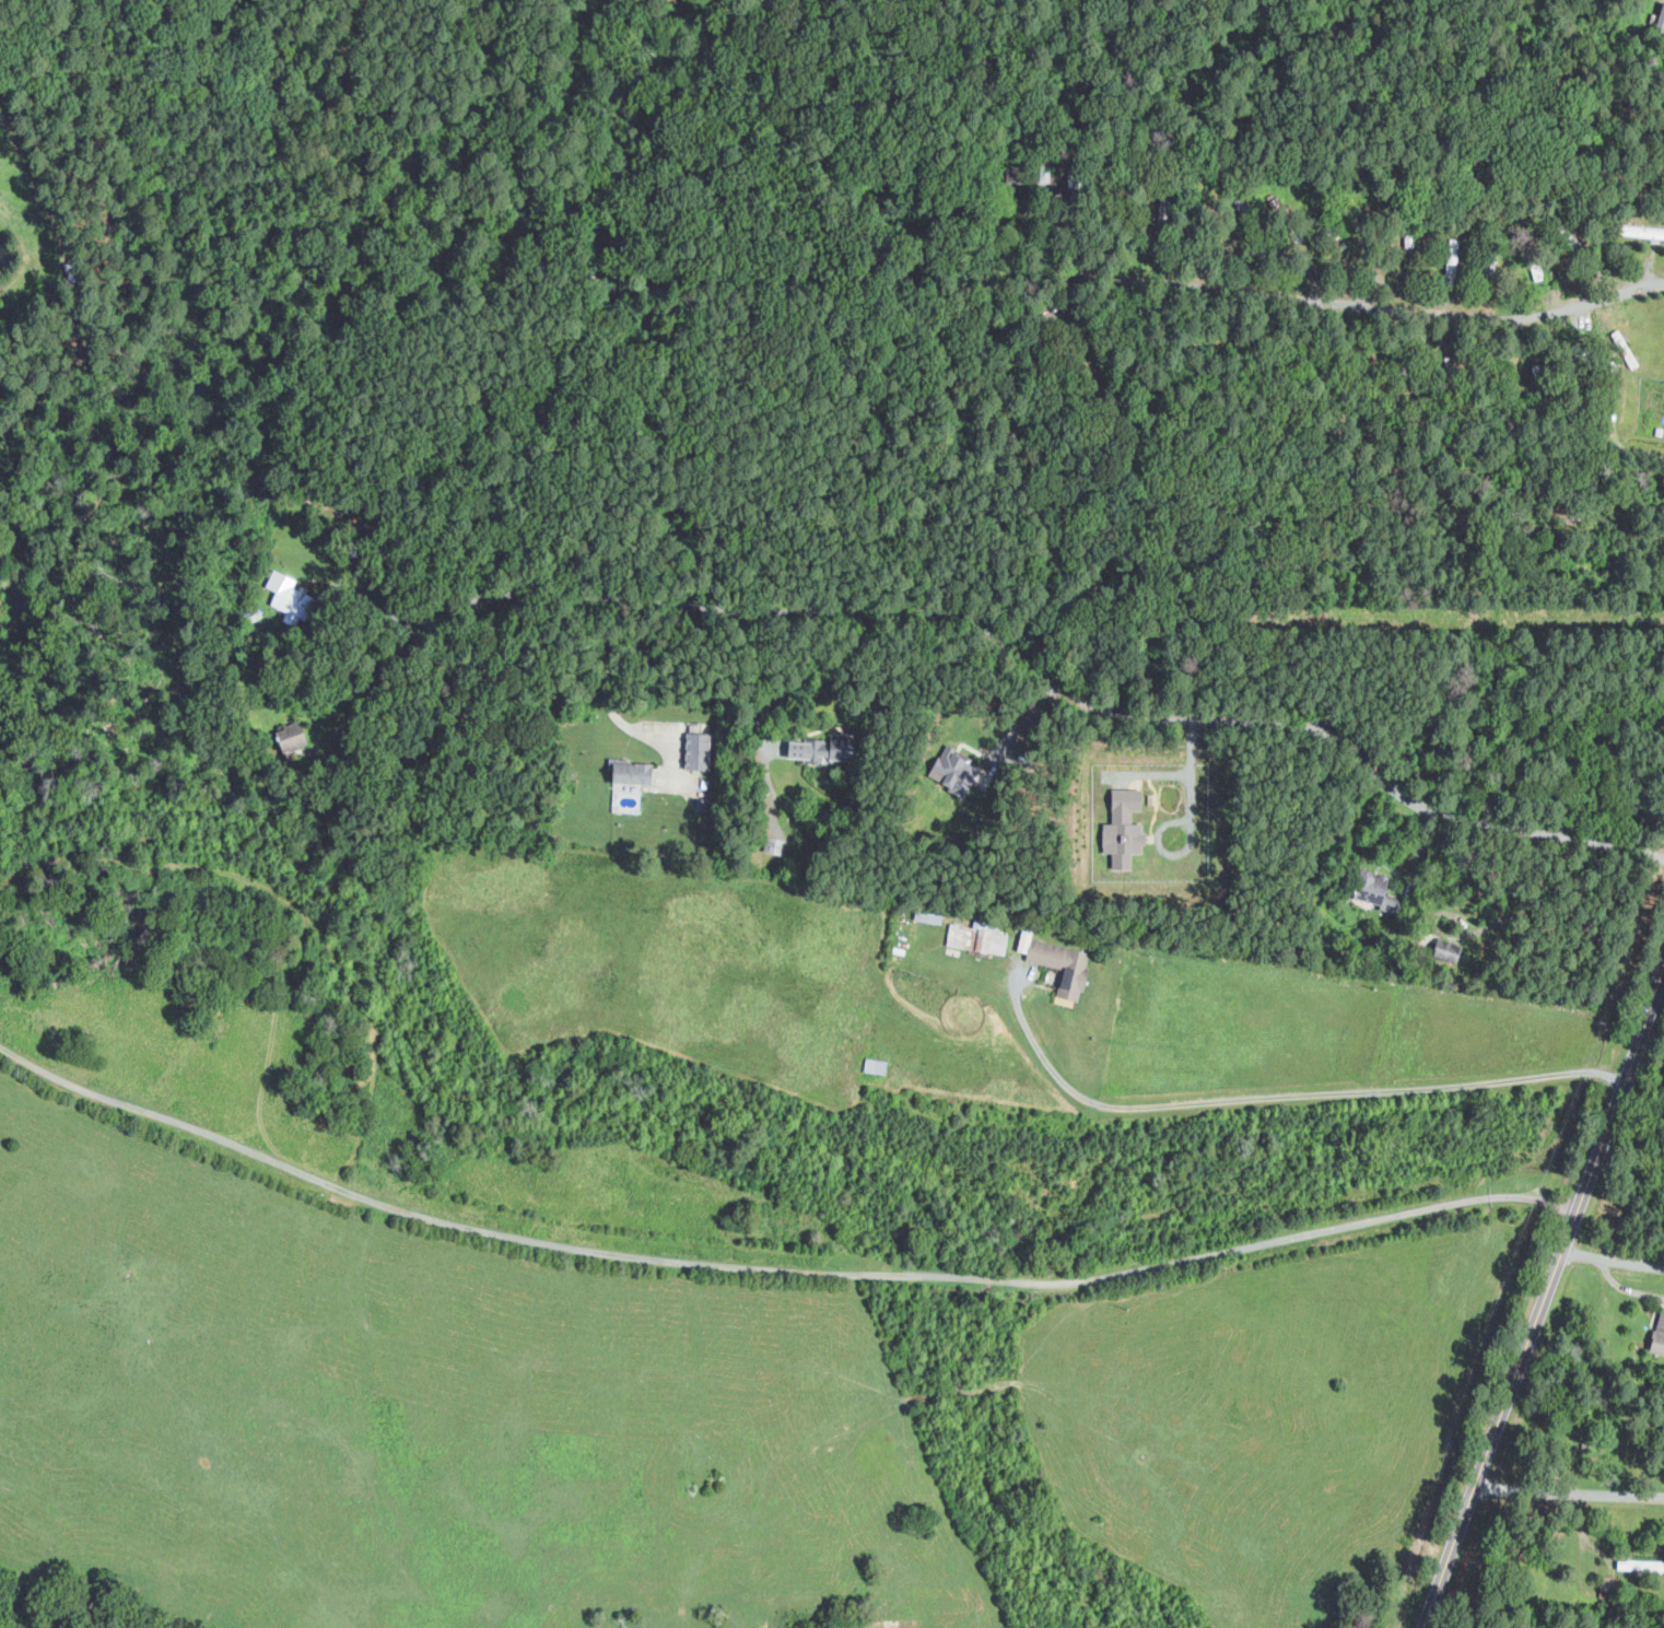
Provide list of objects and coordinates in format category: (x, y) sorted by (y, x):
building: (1661, 23)
building: (1532, 254)
building: (1453, 261)
building: (1554, 296)
road: (1374, 307)
building: (1449, 377)
building: (290, 597)
road: (1022, 651)
road: (797, 680)
road: (611, 704)
road: (1021, 724)
building: (292, 737)
building: (825, 748)
building: (698, 750)
building: (960, 771)
building: (633, 772)
building: (1123, 823)
road: (1183, 823)
road: (1418, 864)
building: (1372, 887)
building: (977, 937)
building: (1449, 949)
building: (1059, 962)
building: (876, 1065)
road: (1290, 1097)
road: (1610, 1261)
road: (773, 1268)
road: (1548, 1281)
road: (1626, 1288)
building: (1659, 1335)
road: (1570, 1490)
building: (1641, 1566)

